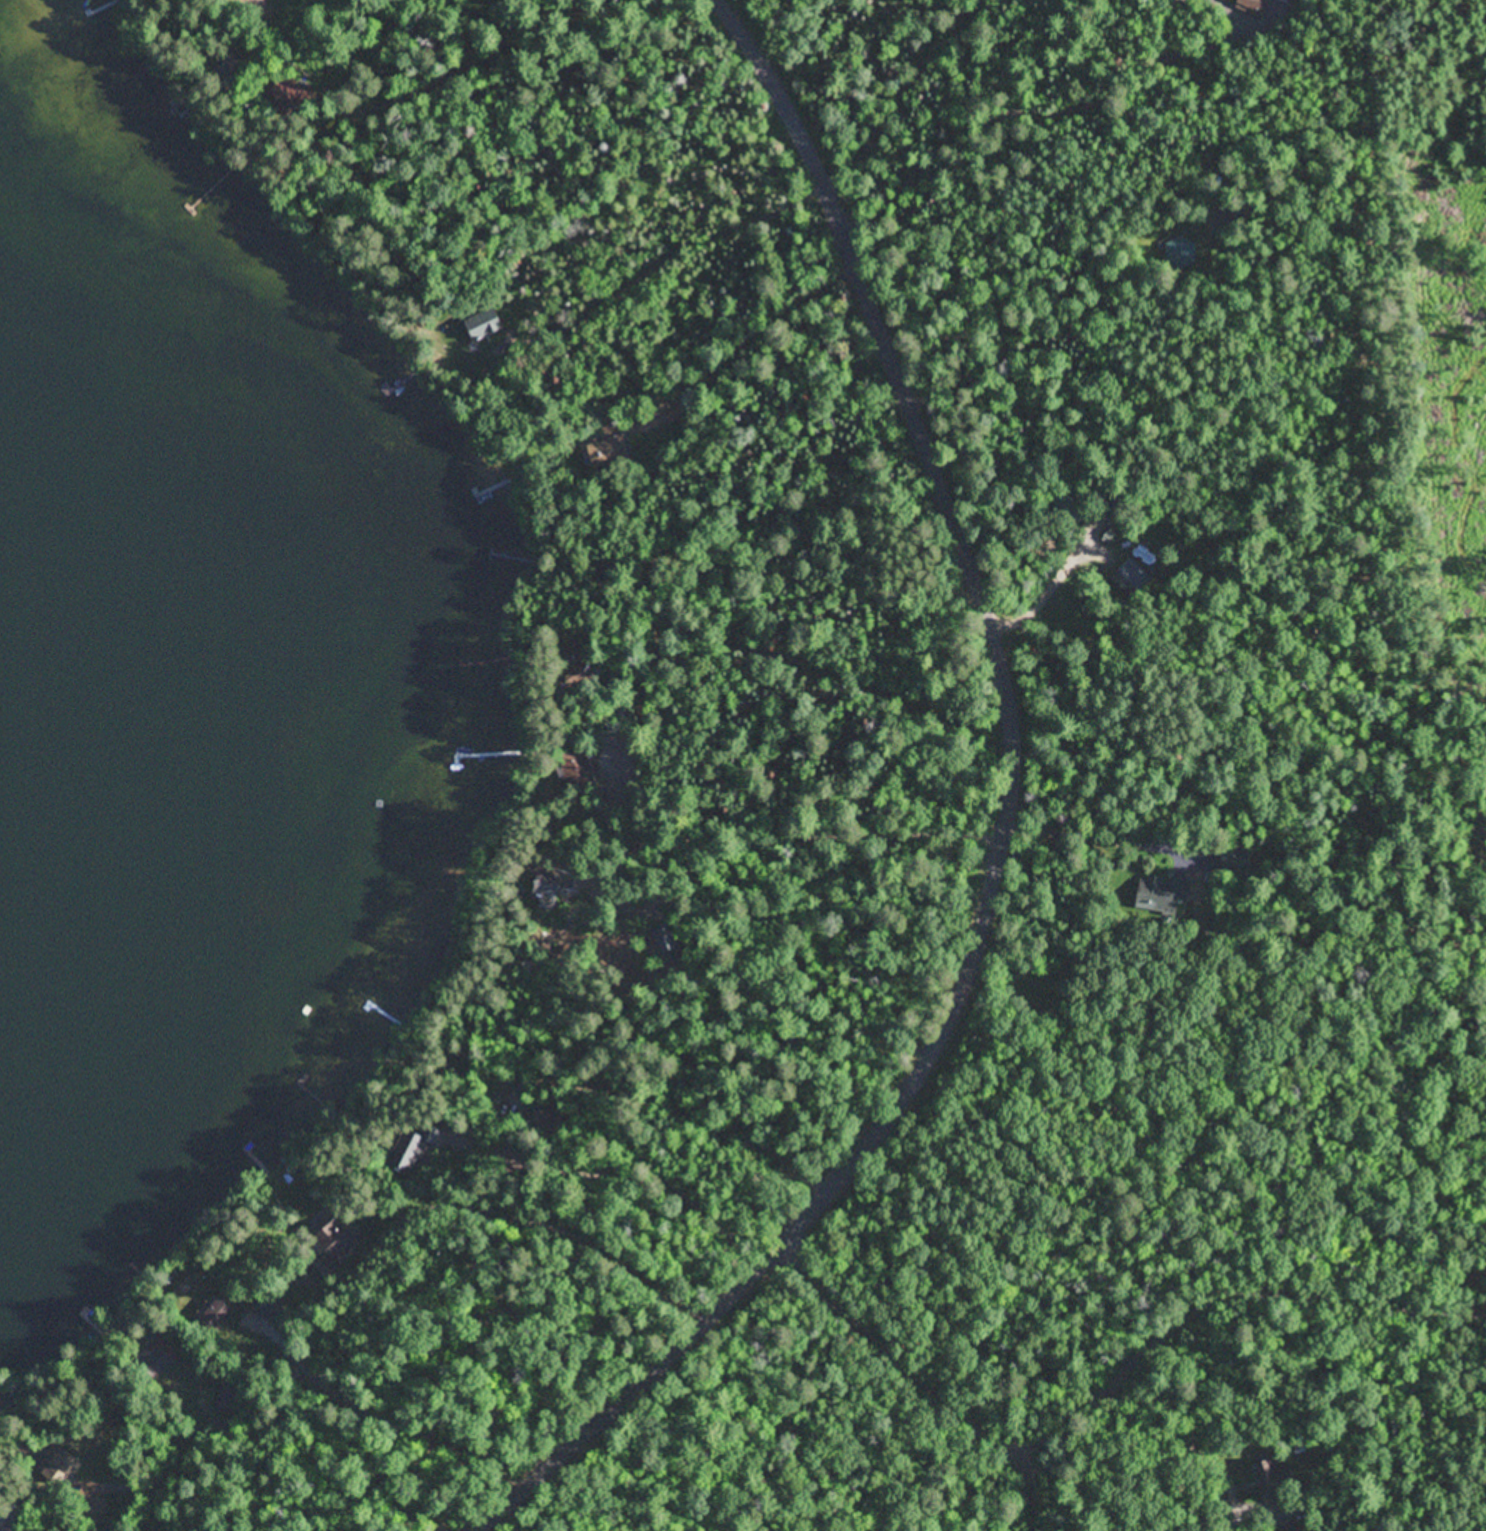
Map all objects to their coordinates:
road: (251, 2)
building: (1249, 6)
road: (183, 21)
road: (221, 27)
road: (173, 29)
road: (156, 36)
road: (185, 44)
road: (189, 60)
building: (235, 63)
road: (453, 66)
road: (185, 77)
building: (1182, 253)
building: (492, 324)
building: (612, 450)
road: (1008, 833)
road: (745, 837)
building: (1158, 894)
road: (561, 1222)
building: (334, 1239)
road: (1226, 1293)
building: (219, 1314)
road: (898, 1349)
building: (158, 1358)
building: (61, 1466)
road: (1038, 1489)
road: (106, 1517)

